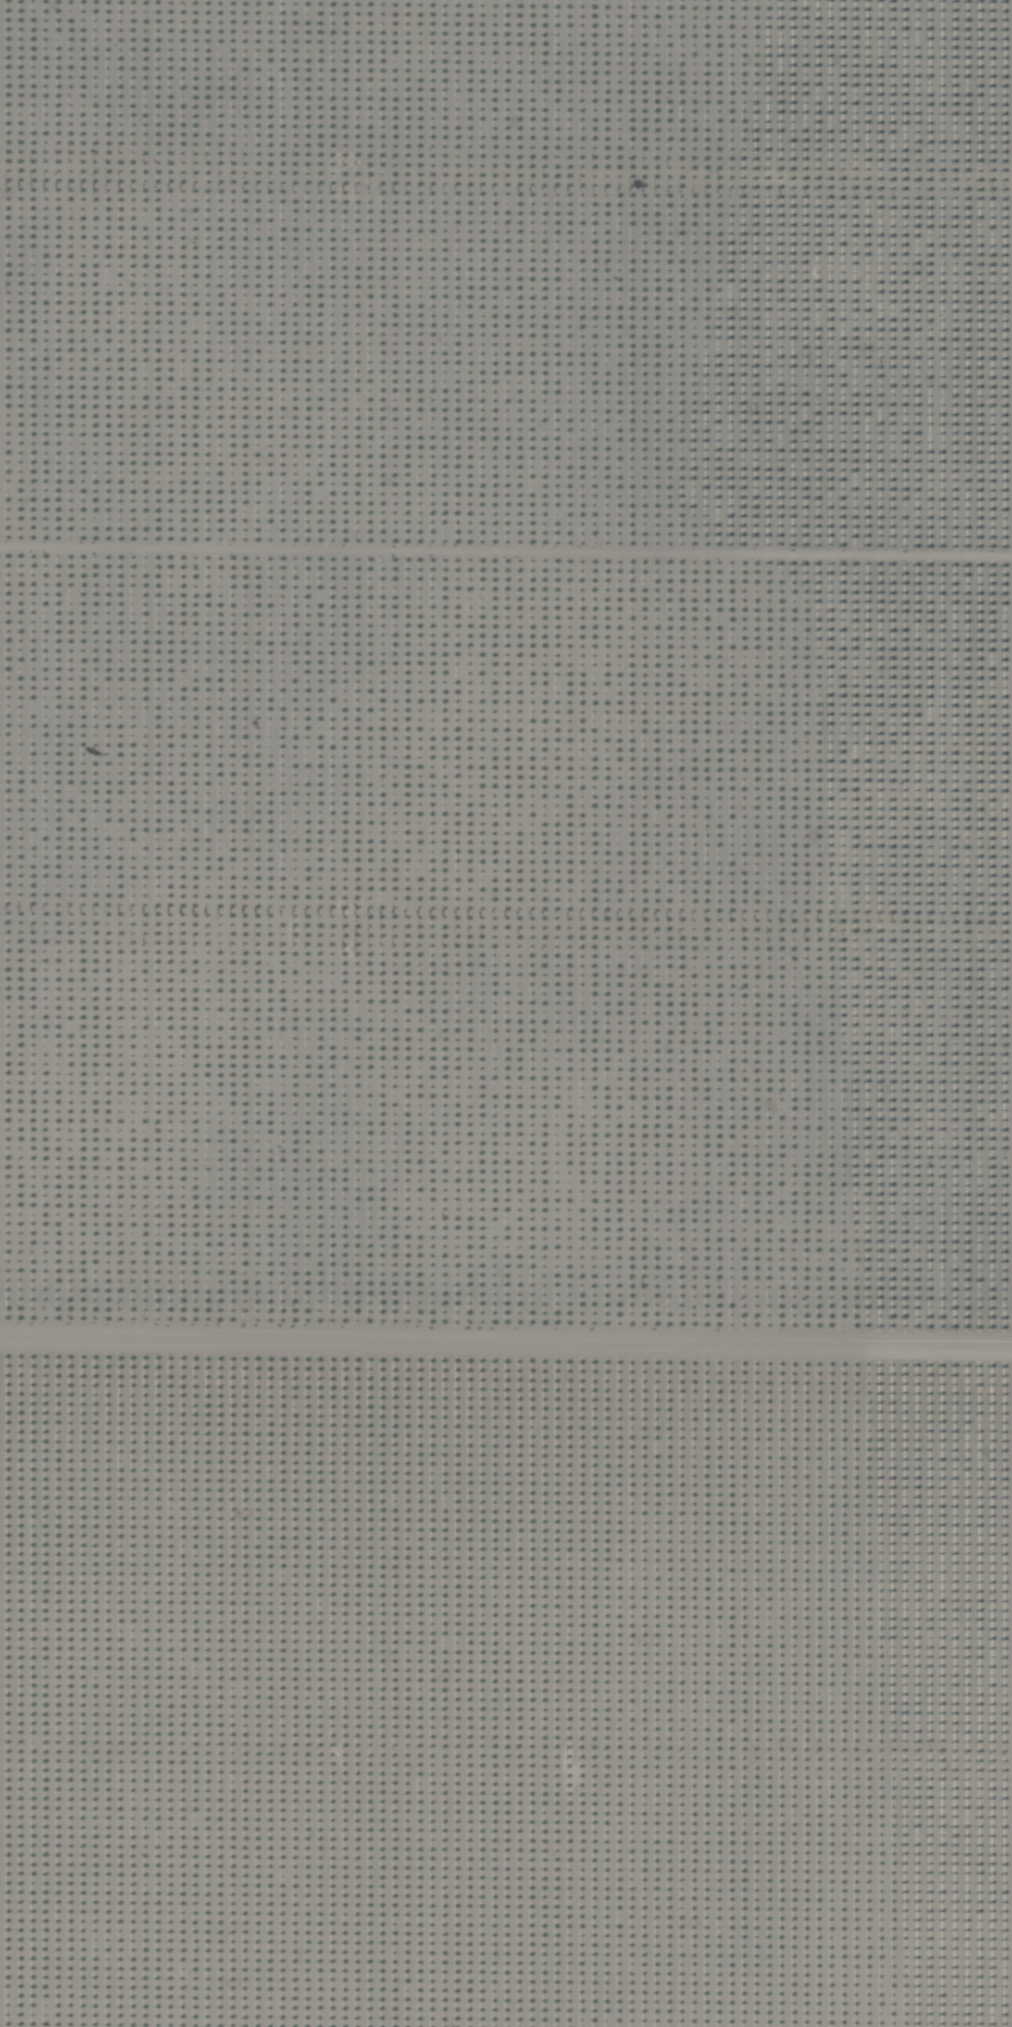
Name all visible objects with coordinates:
crop: (506, 1013)
road: (506, 1304)

